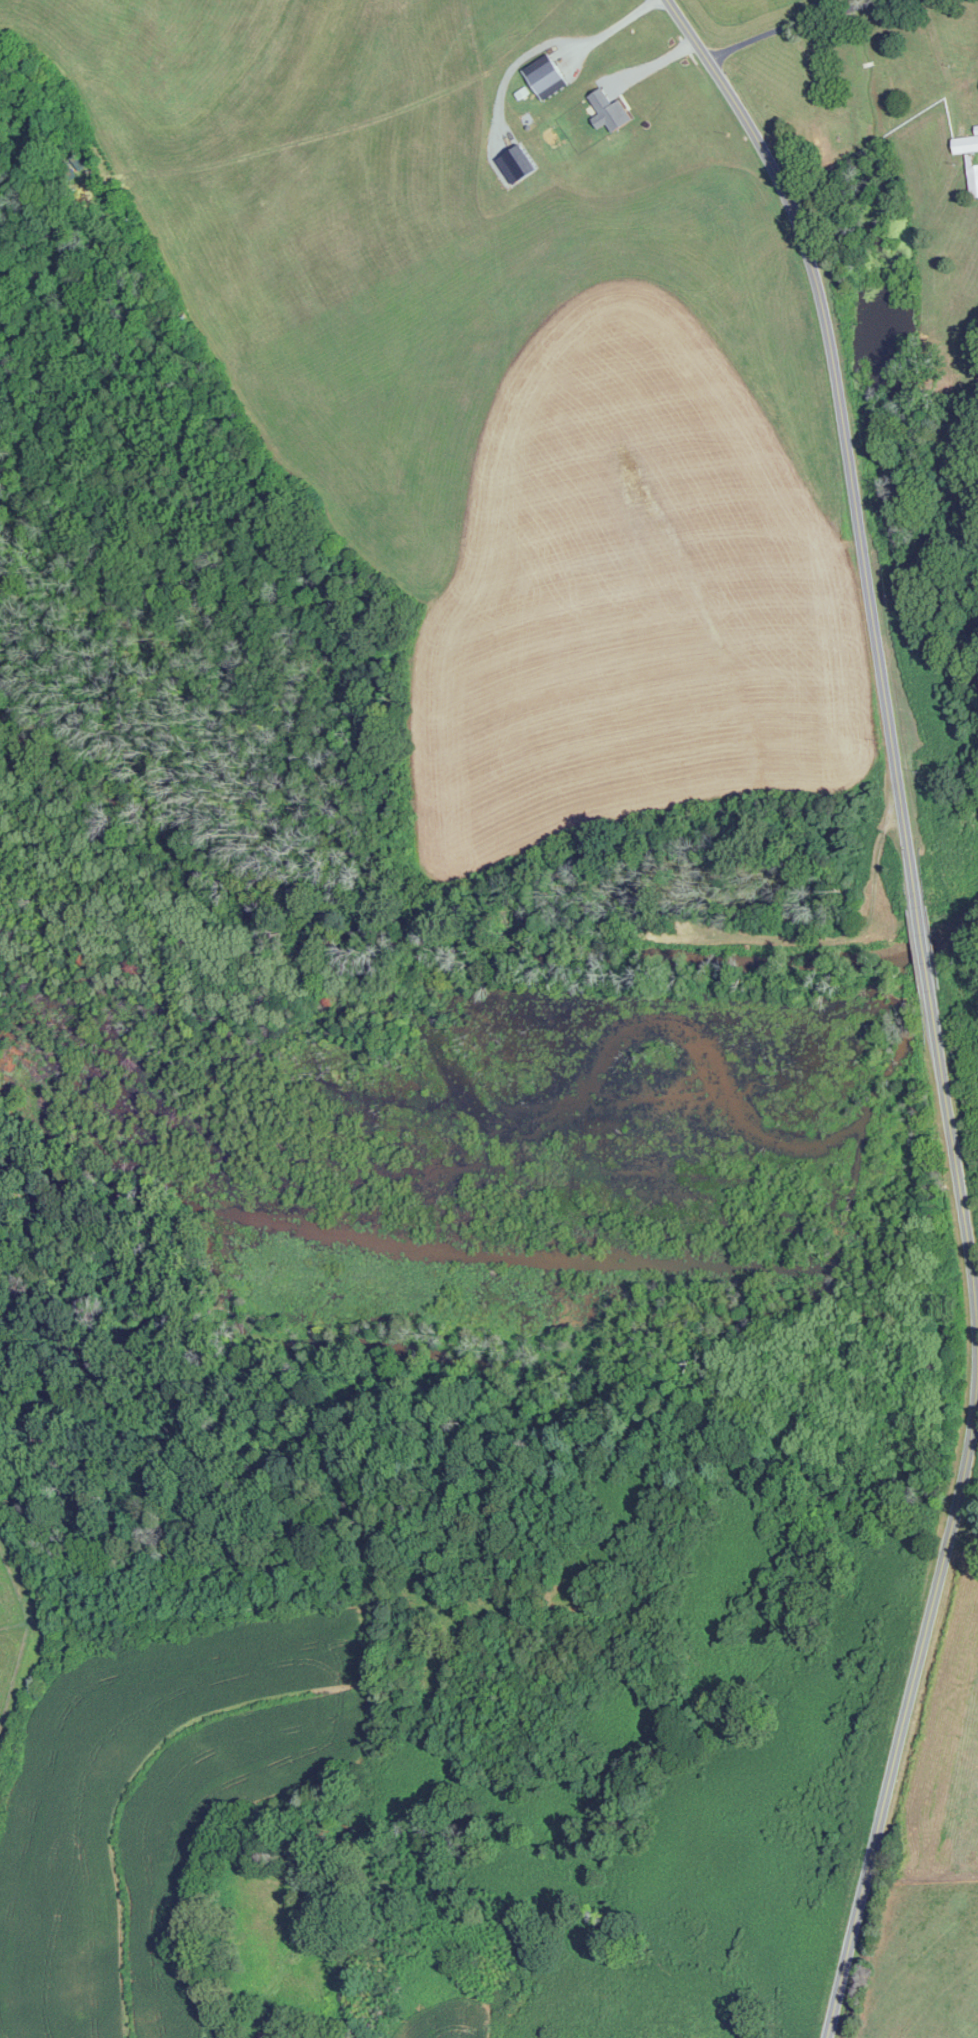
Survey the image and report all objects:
road: (789, 23)
road: (609, 28)
building: (544, 79)
building: (608, 113)
building: (965, 145)
building: (973, 181)
road: (844, 434)
road: (924, 947)
road: (967, 1513)
road: (953, 1518)
building: (263, 2035)

